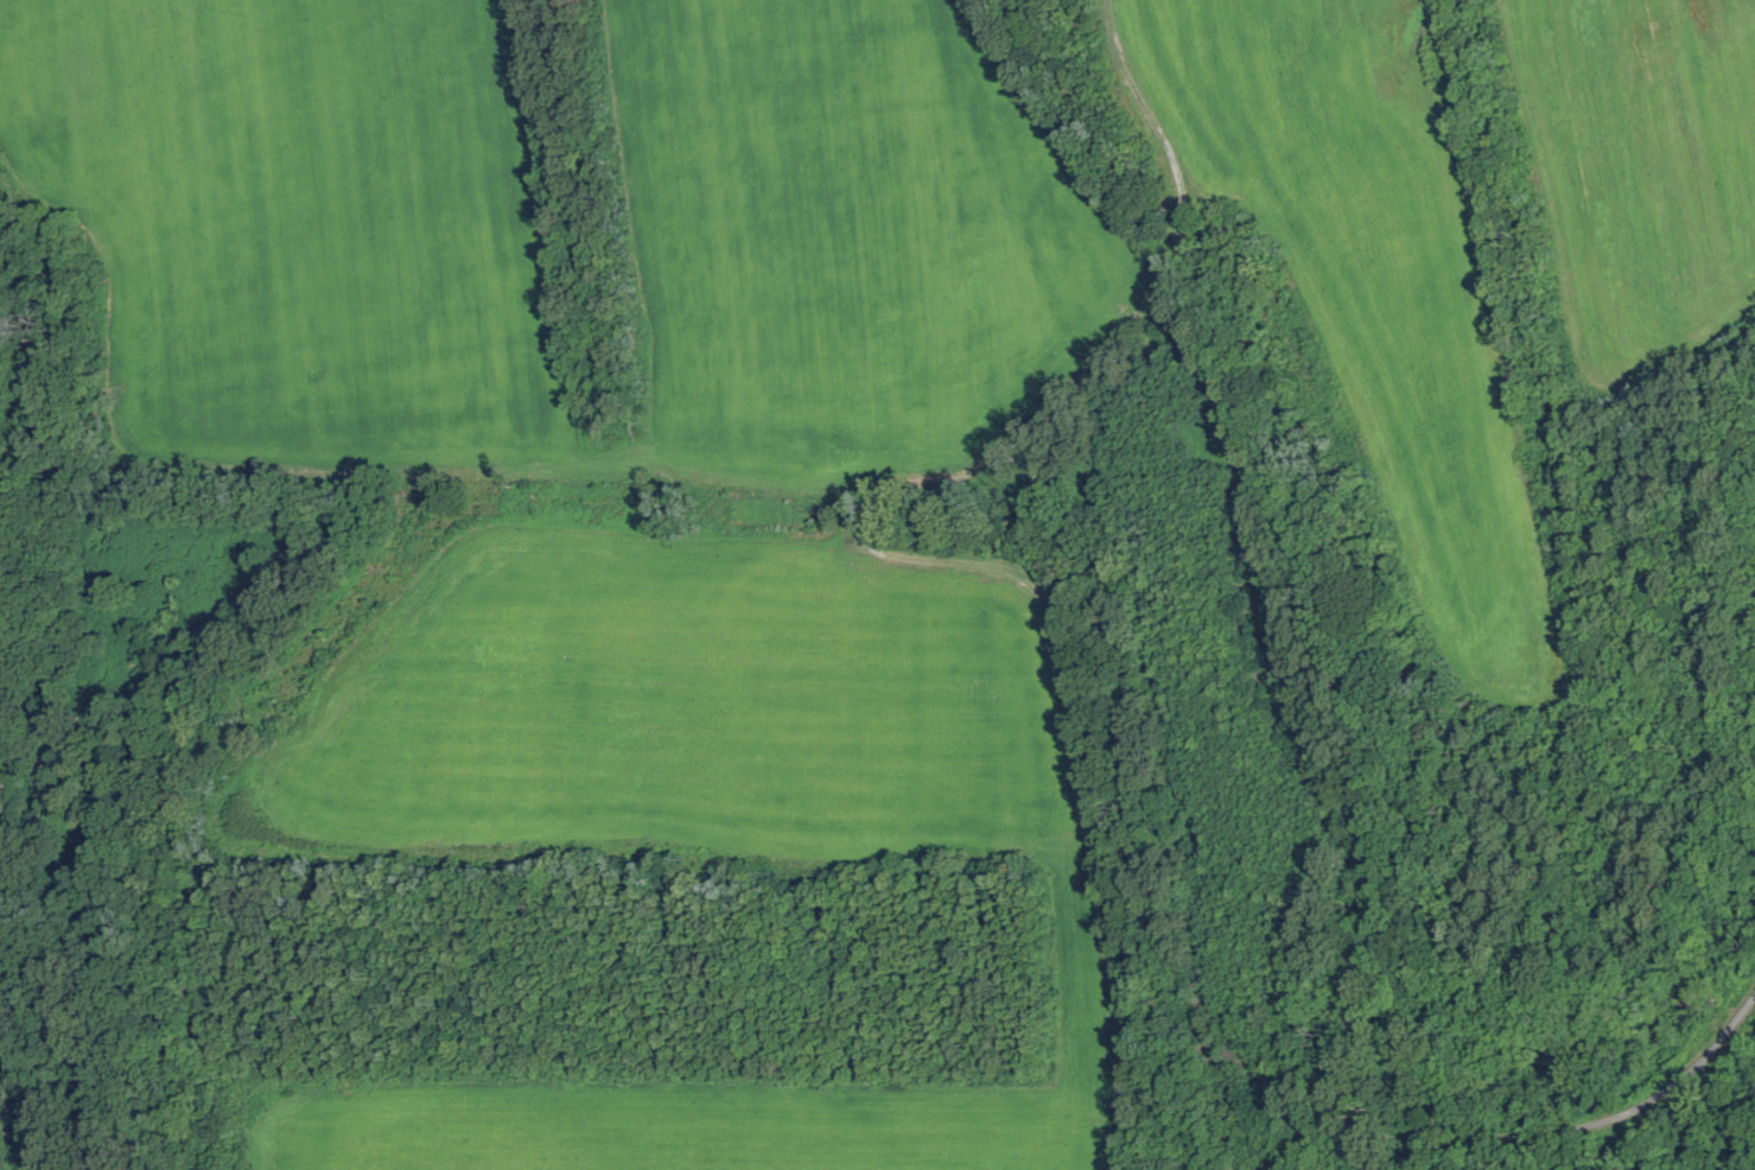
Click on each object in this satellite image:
road: (1588, 1125)

